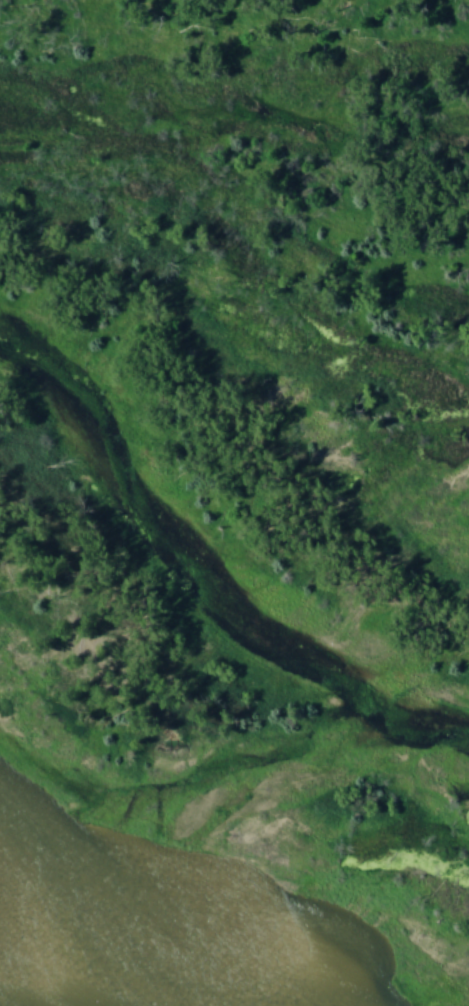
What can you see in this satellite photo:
river: (61, 962)

